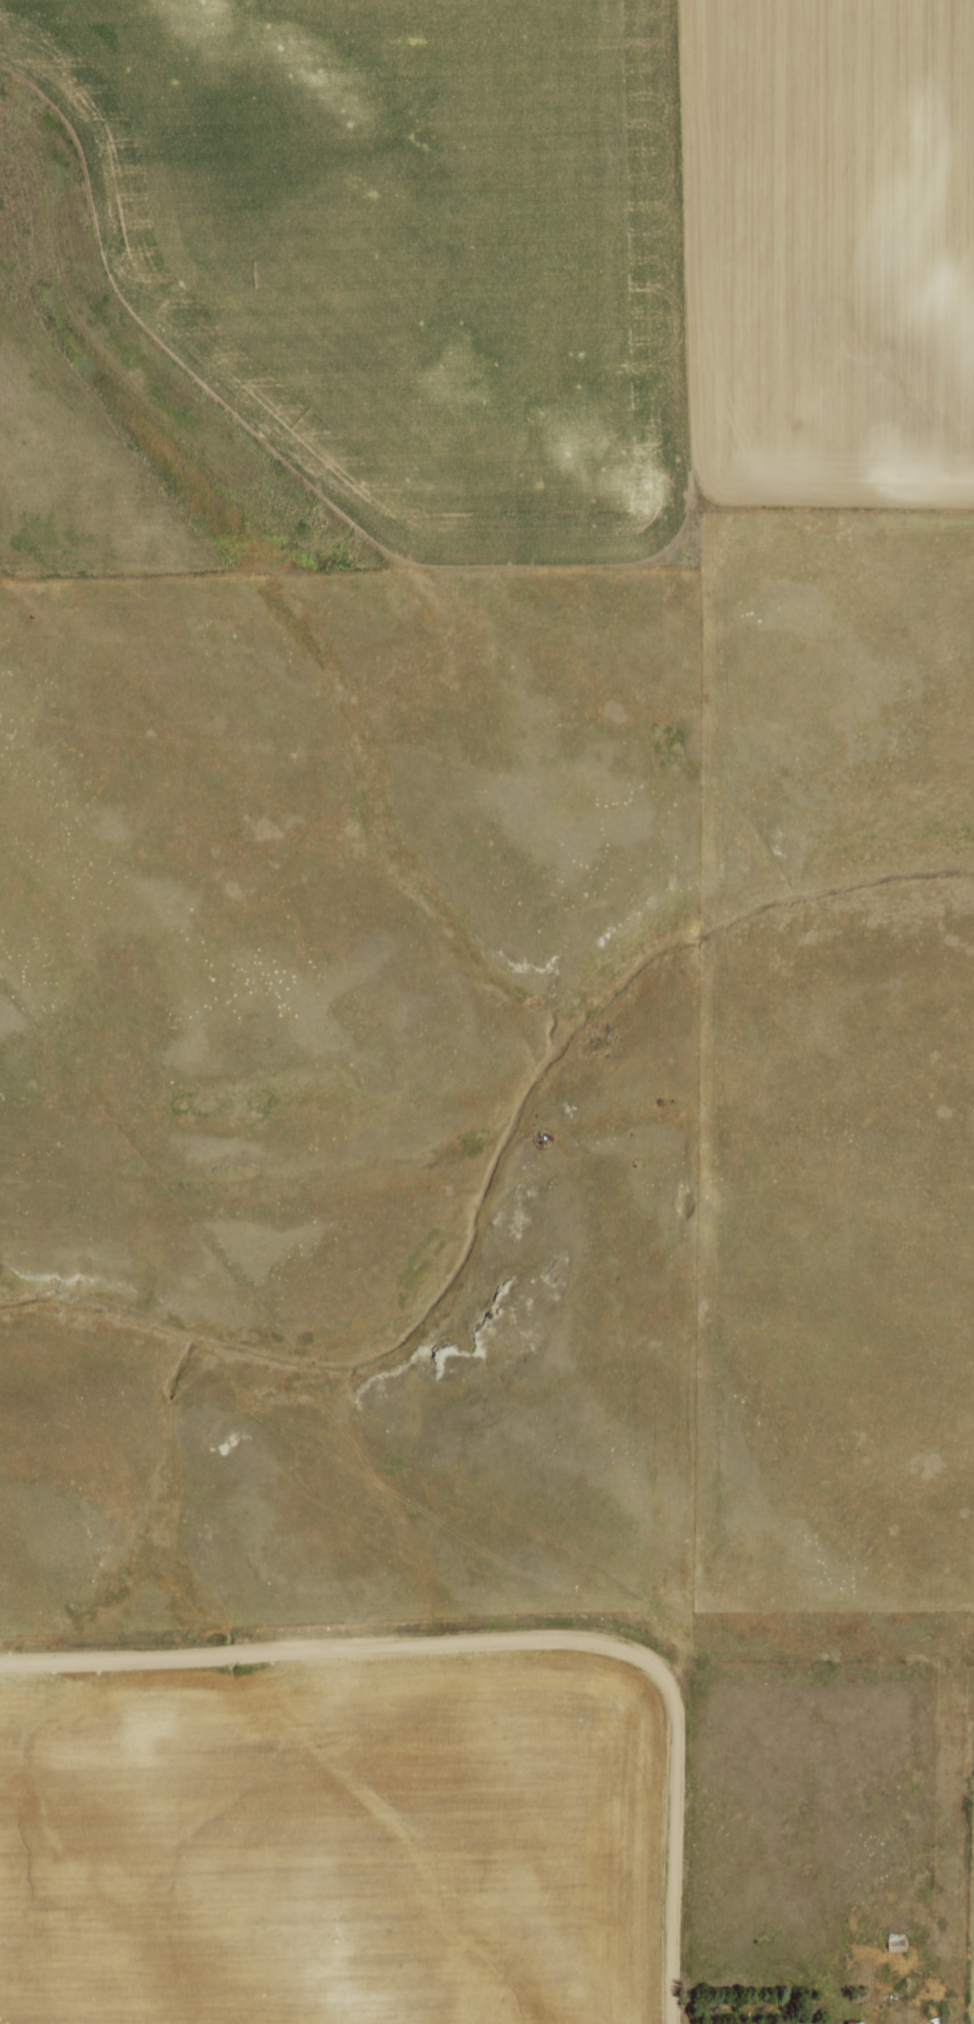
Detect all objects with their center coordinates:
crop: (547, 247)
road: (327, 1648)
road: (675, 1840)
crop: (334, 1843)
crop: (971, 1920)
building: (893, 1940)
building: (851, 2022)

